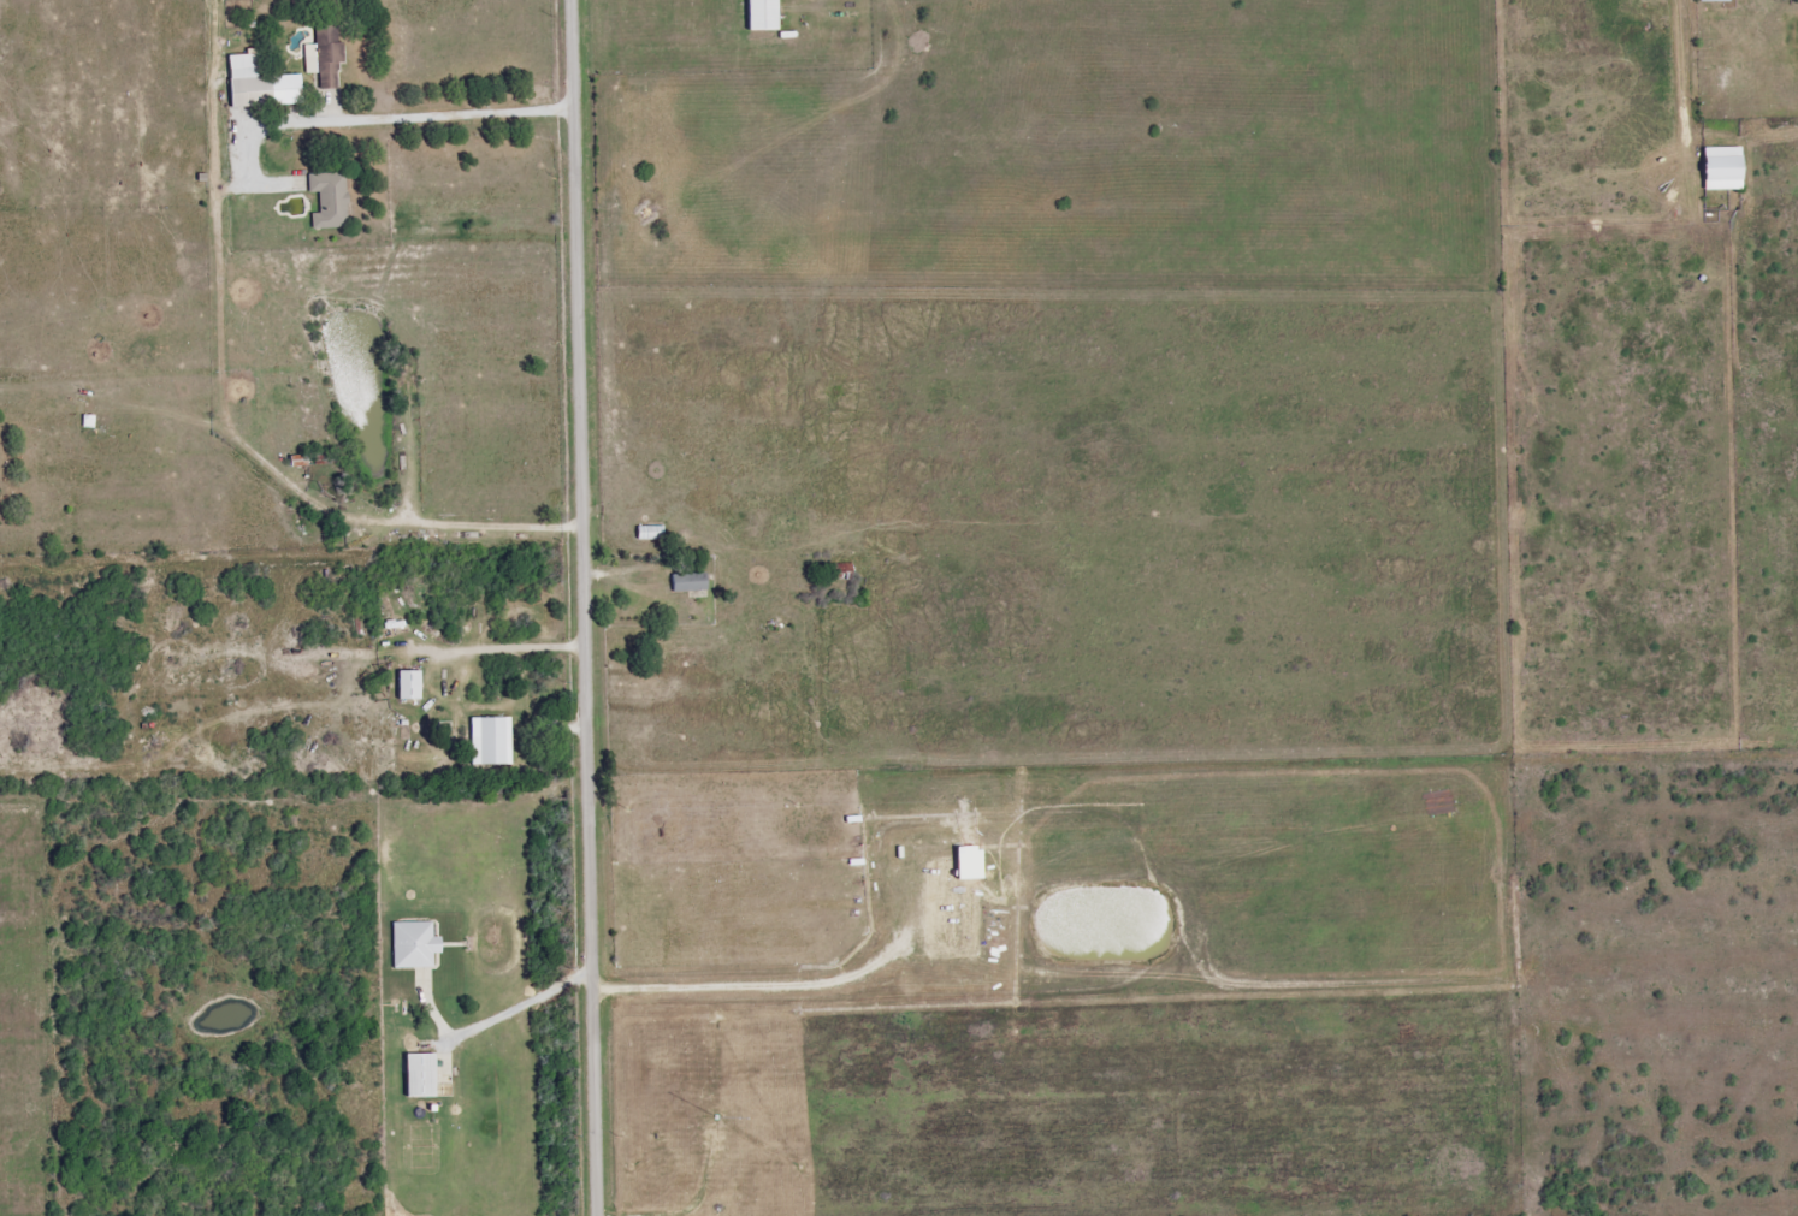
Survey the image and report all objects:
building: (1714, 1)
building: (761, 16)
building: (324, 55)
building: (259, 84)
road: (408, 114)
building: (1721, 167)
building: (329, 200)
road: (428, 532)
building: (688, 581)
road: (586, 607)
building: (407, 683)
building: (490, 740)
building: (968, 862)
building: (413, 944)
building: (419, 1075)

